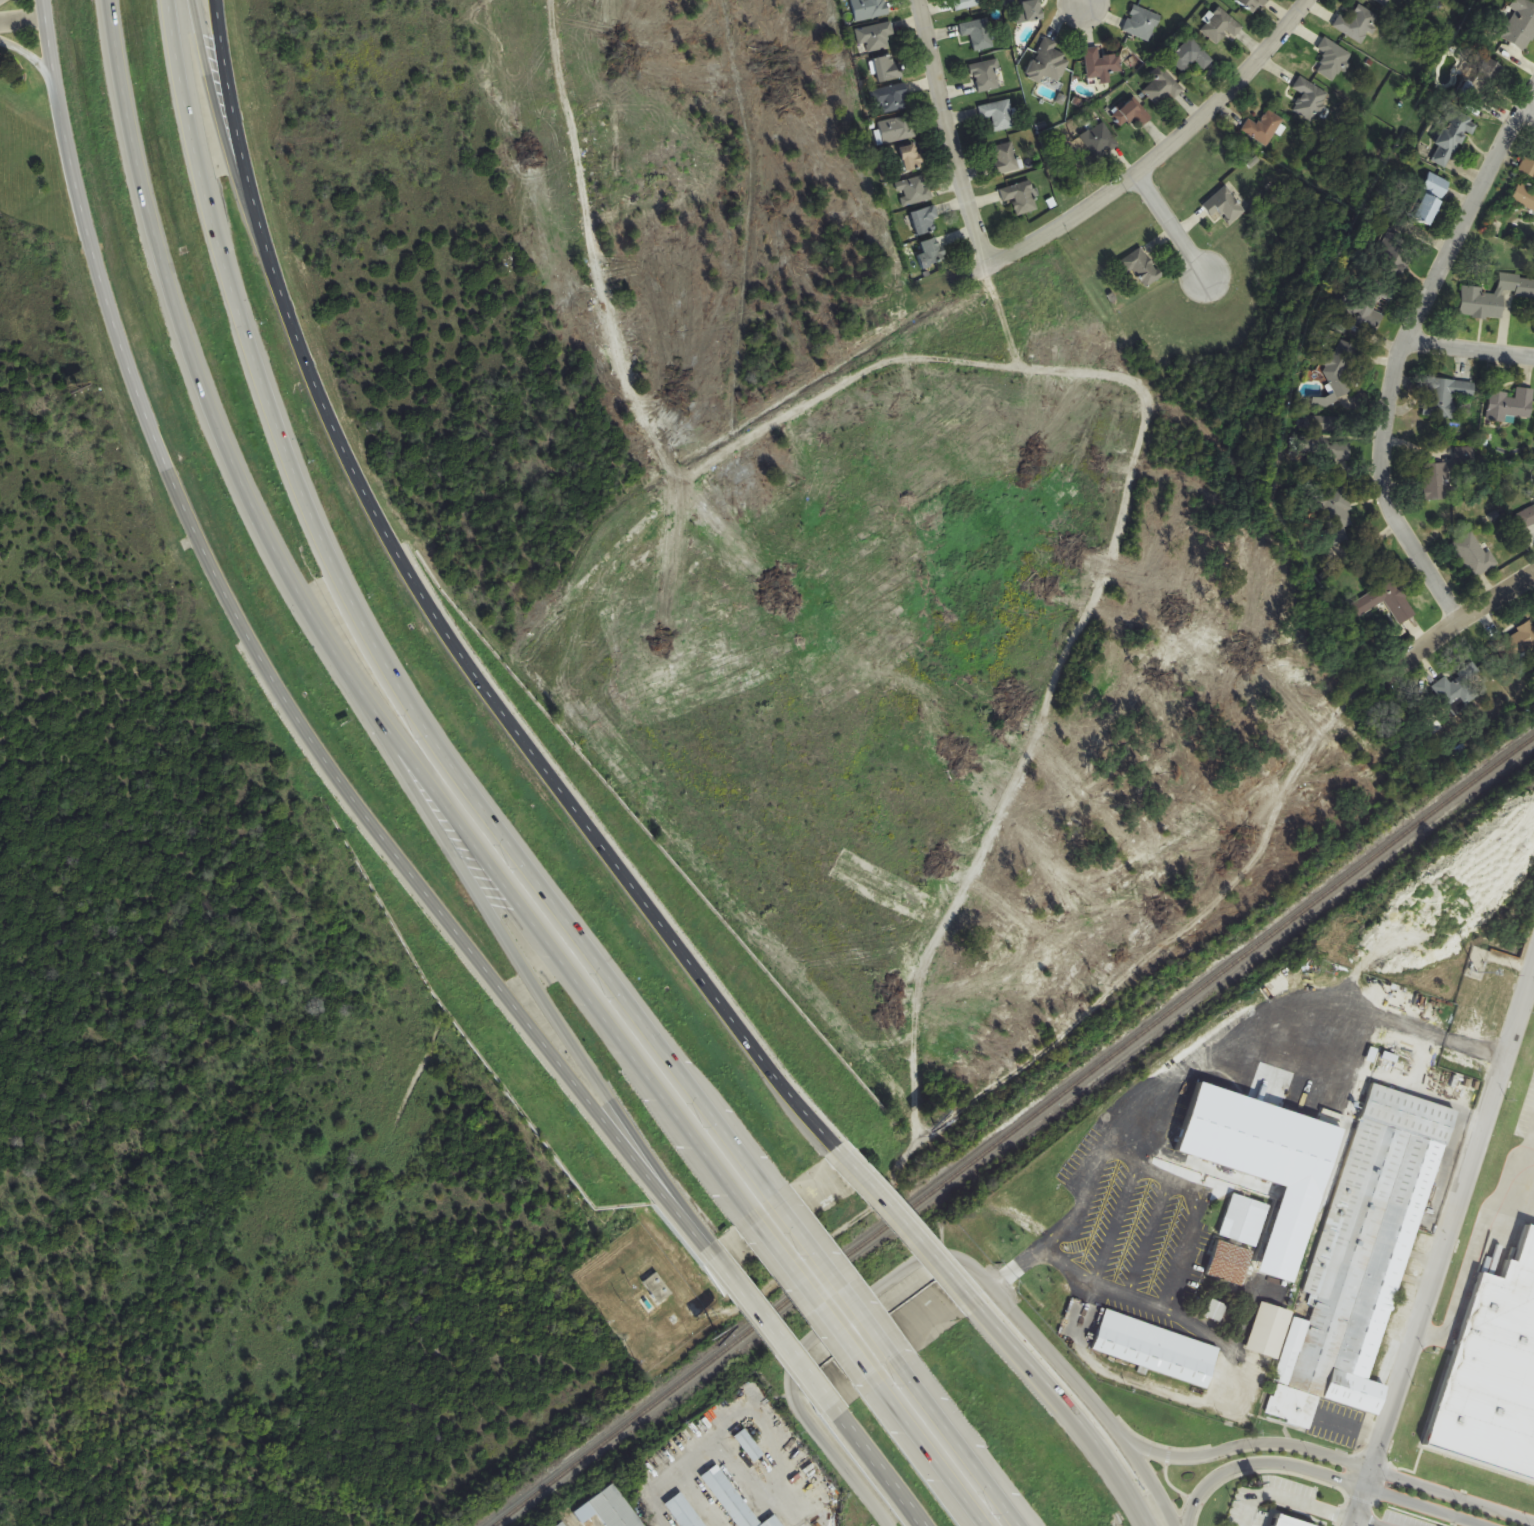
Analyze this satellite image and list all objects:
building: (1382, 1)
road: (1078, 2)
building: (967, 4)
building: (1252, 4)
building: (869, 9)
building: (1030, 11)
road: (20, 23)
building: (1141, 23)
building: (1356, 24)
building: (1519, 24)
building: (1221, 26)
building: (978, 34)
building: (875, 37)
building: (1190, 57)
building: (1332, 60)
building: (1049, 63)
building: (1101, 65)
building: (887, 68)
building: (986, 76)
building: (1482, 82)
building: (1162, 88)
building: (891, 98)
building: (1309, 99)
road: (1527, 113)
building: (1131, 114)
building: (999, 115)
building: (1263, 127)
building: (898, 129)
road: (238, 132)
road: (224, 133)
road: (949, 133)
building: (1452, 137)
building: (1097, 141)
building: (910, 158)
building: (1004, 159)
building: (914, 191)
building: (1530, 193)
building: (1020, 197)
building: (1430, 199)
building: (1224, 207)
building: (925, 221)
road: (1170, 226)
road: (1028, 243)
building: (1394, 252)
building: (926, 253)
building: (1141, 267)
building: (1495, 297)
road: (99, 298)
building: (1374, 320)
road: (1401, 349)
road: (1469, 349)
building: (1336, 373)
road: (323, 394)
building: (1448, 398)
building: (1510, 405)
road: (926, 427)
road: (1033, 483)
building: (1436, 483)
road: (752, 490)
building: (1337, 515)
building: (1526, 517)
building: (1473, 555)
building: (1386, 602)
road: (1169, 622)
building: (1515, 642)
road: (374, 645)
road: (334, 652)
building: (1459, 689)
road: (1246, 788)
road: (600, 841)
road: (447, 922)
road: (536, 980)
road: (1429, 1094)
railway: (1011, 1130)
road: (1474, 1144)
road: (907, 1228)
road: (1173, 1240)
building: (1237, 1240)
road: (1475, 1251)
building: (1359, 1255)
road: (935, 1256)
road: (841, 1278)
building: (658, 1288)
road: (815, 1298)
road: (774, 1331)
building: (1156, 1349)
building: (1497, 1397)
road: (1067, 1413)
road: (1383, 1427)
road: (965, 1443)
building: (749, 1445)
road: (931, 1455)
road: (1334, 1457)
road: (882, 1470)
road: (1321, 1474)
building: (734, 1499)
building: (610, 1509)
building: (685, 1511)
road: (1366, 1522)
building: (563, 1524)

